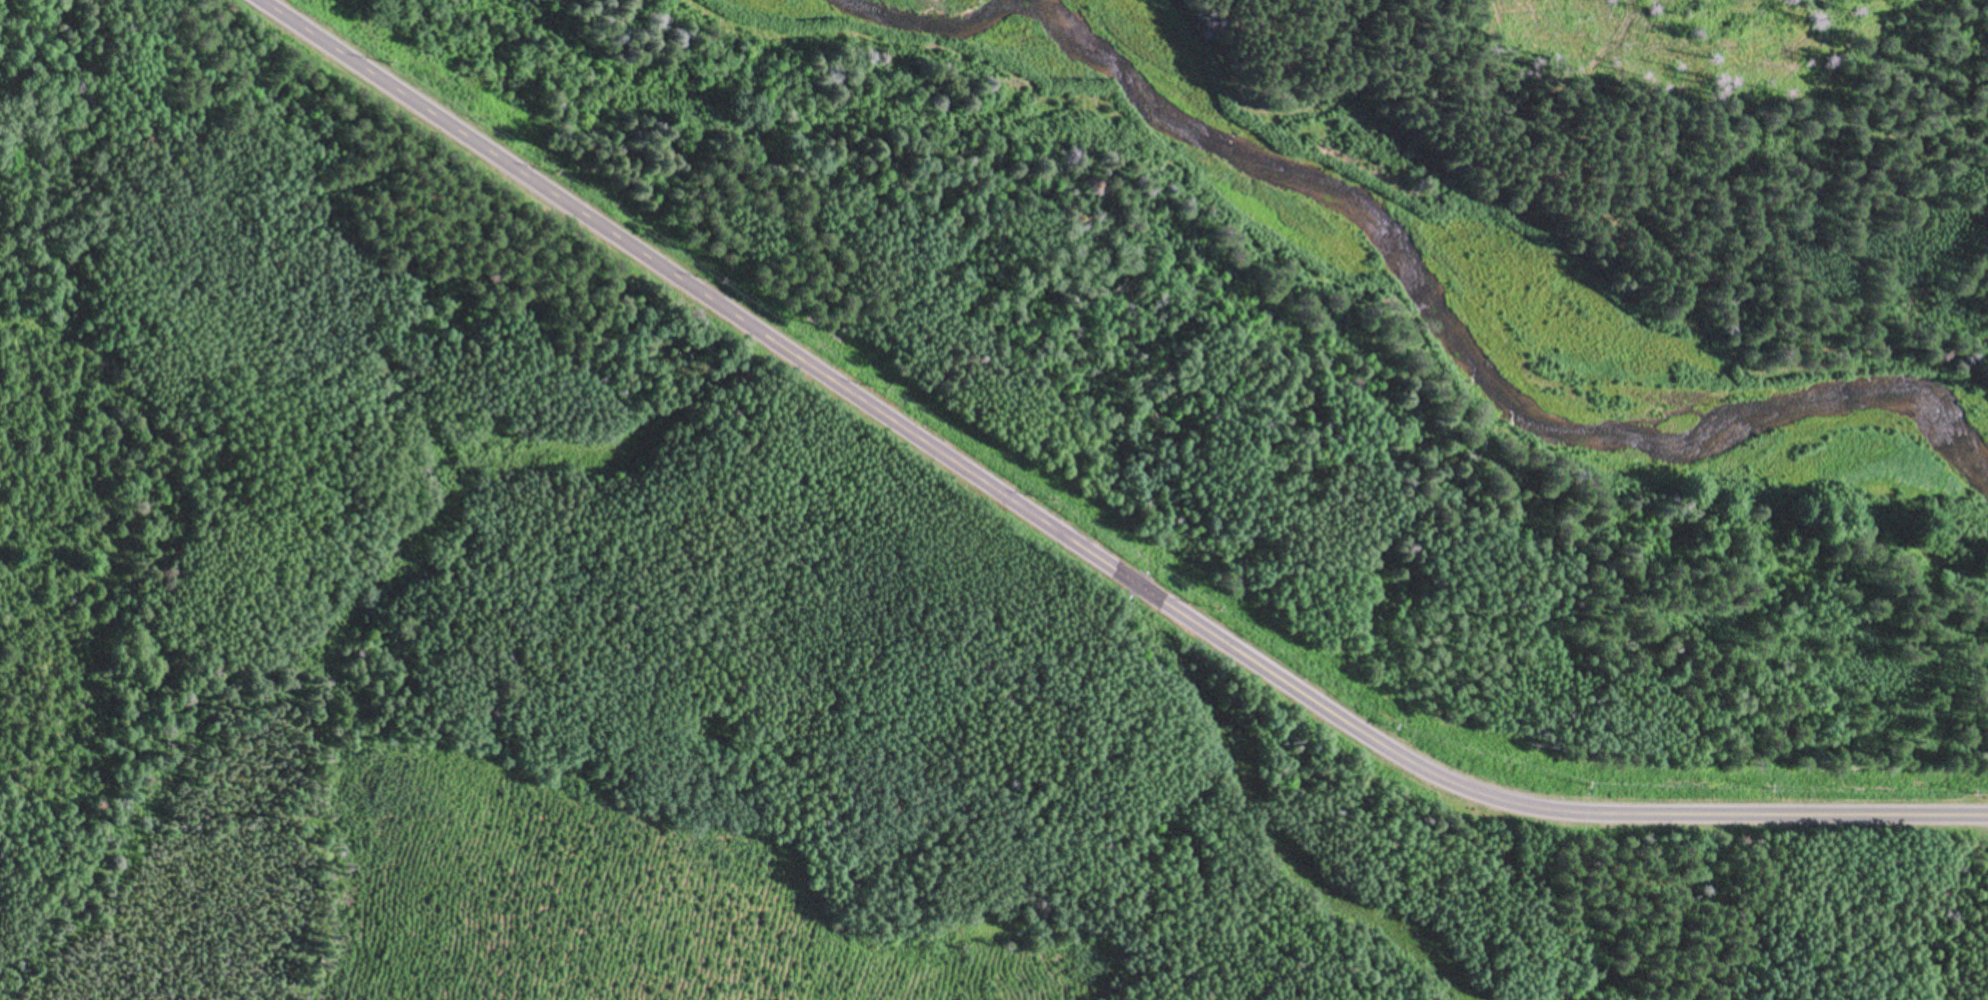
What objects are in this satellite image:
river: (1449, 303)
road: (1081, 544)

